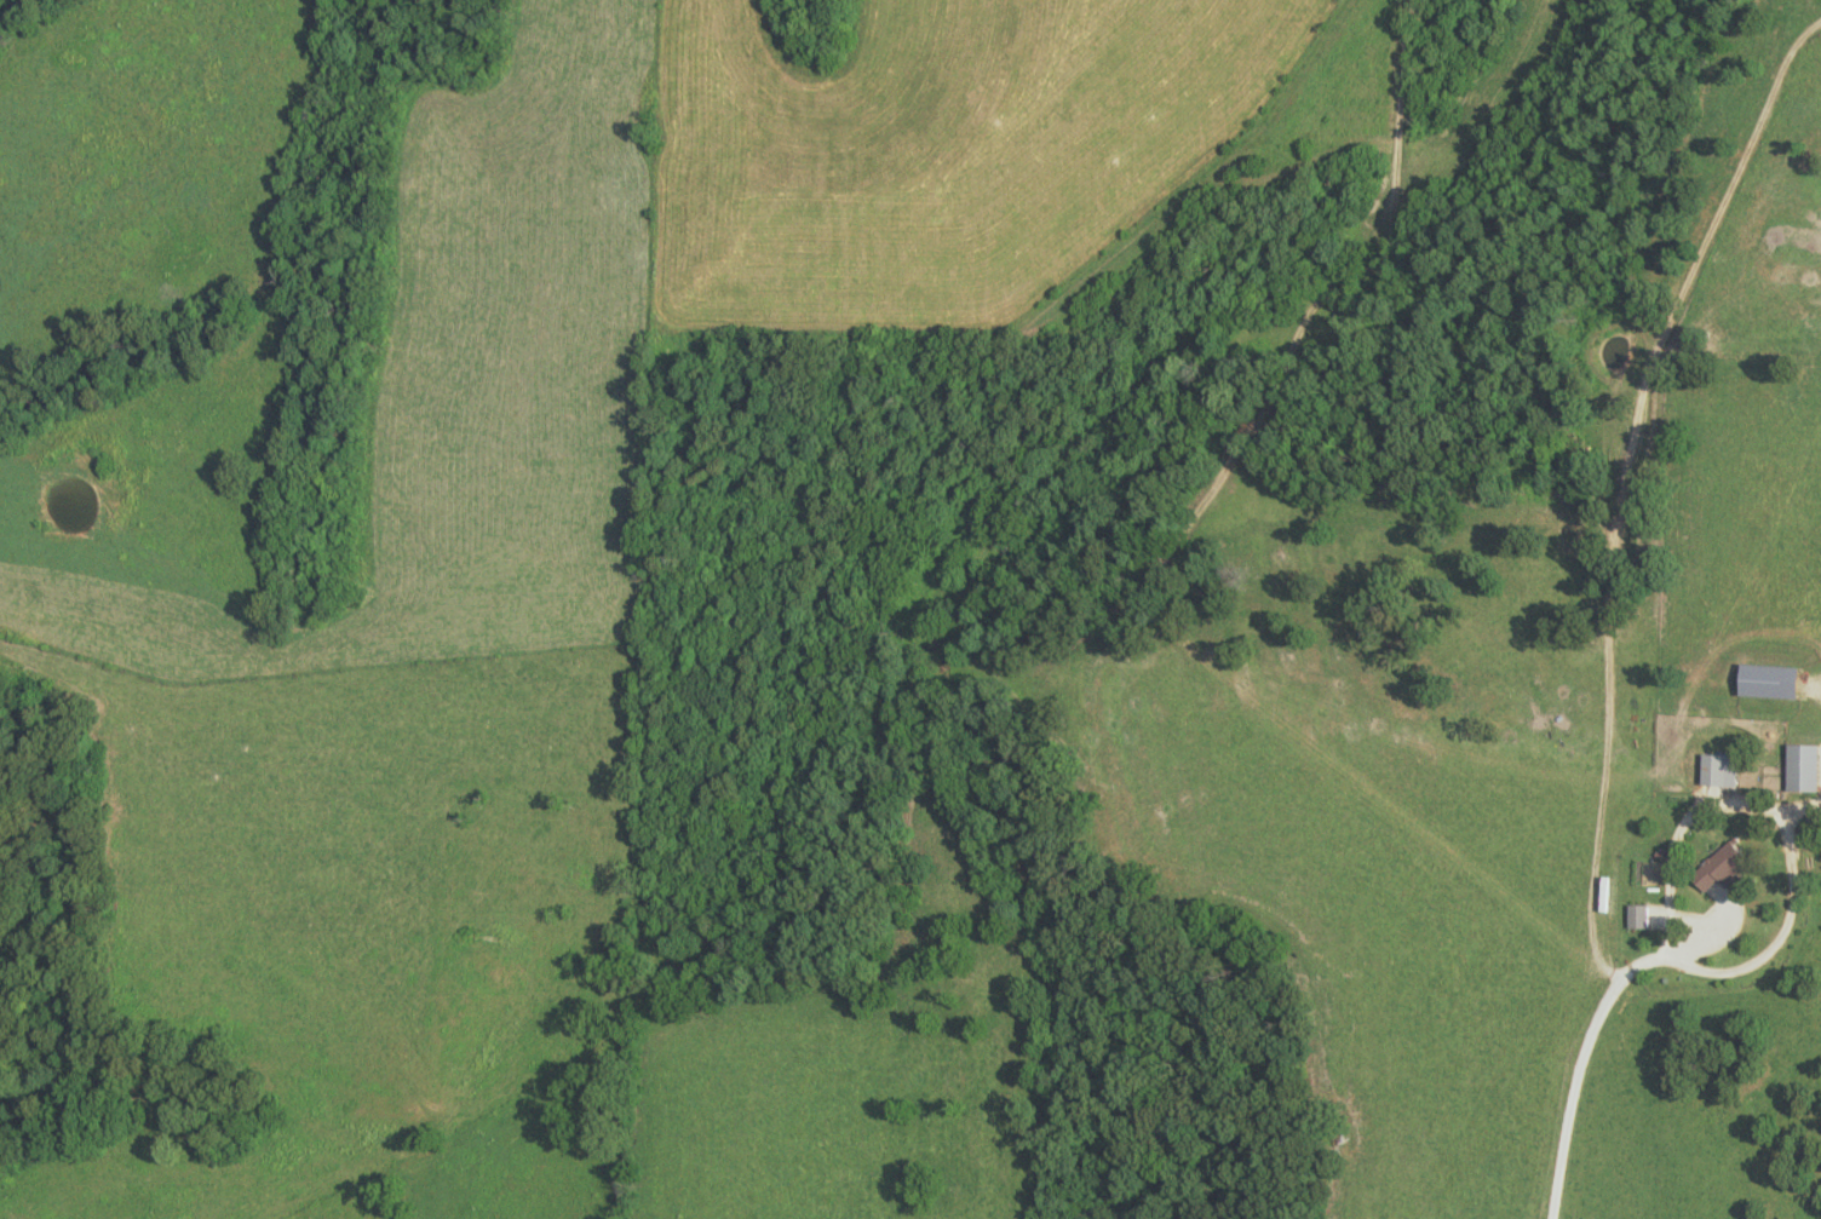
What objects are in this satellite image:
building: (1767, 680)
building: (1802, 767)
building: (1717, 770)
building: (1719, 867)
building: (1636, 915)
road: (1595, 1048)

